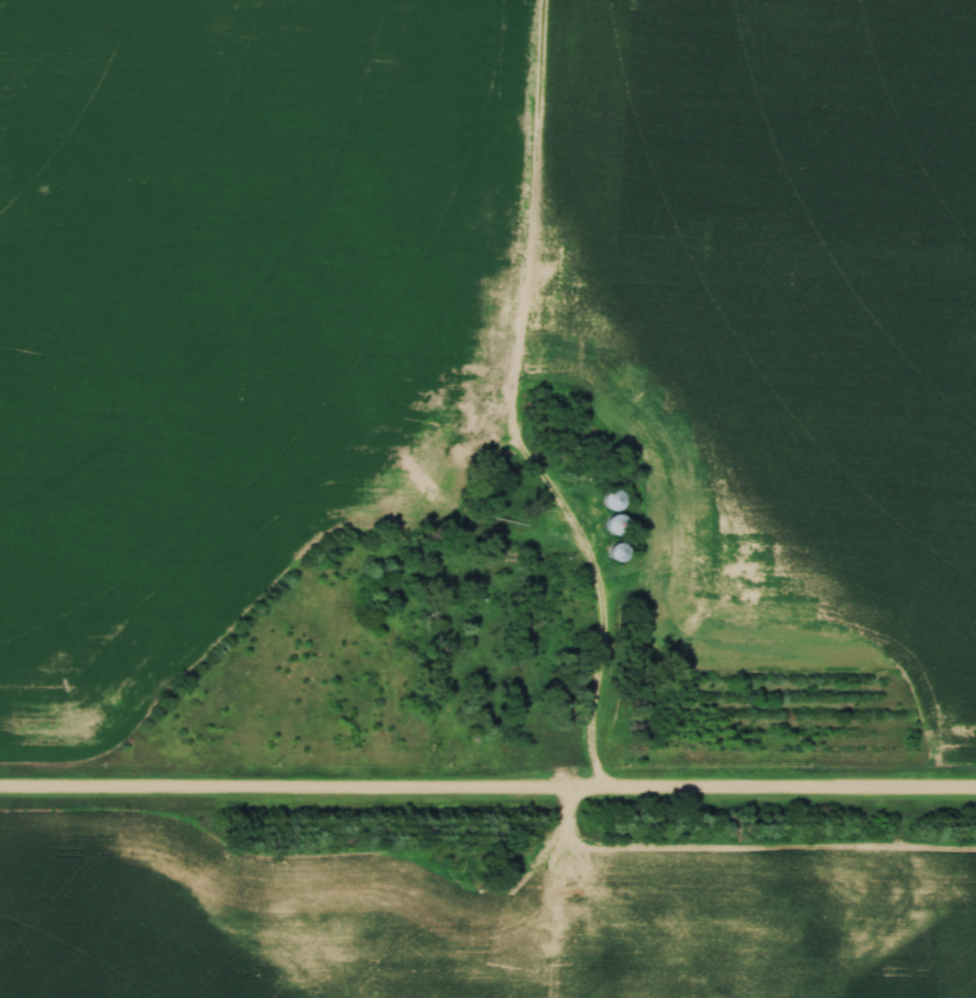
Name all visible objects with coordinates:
building: (610, 501)
building: (611, 526)
building: (614, 554)
road: (488, 793)

